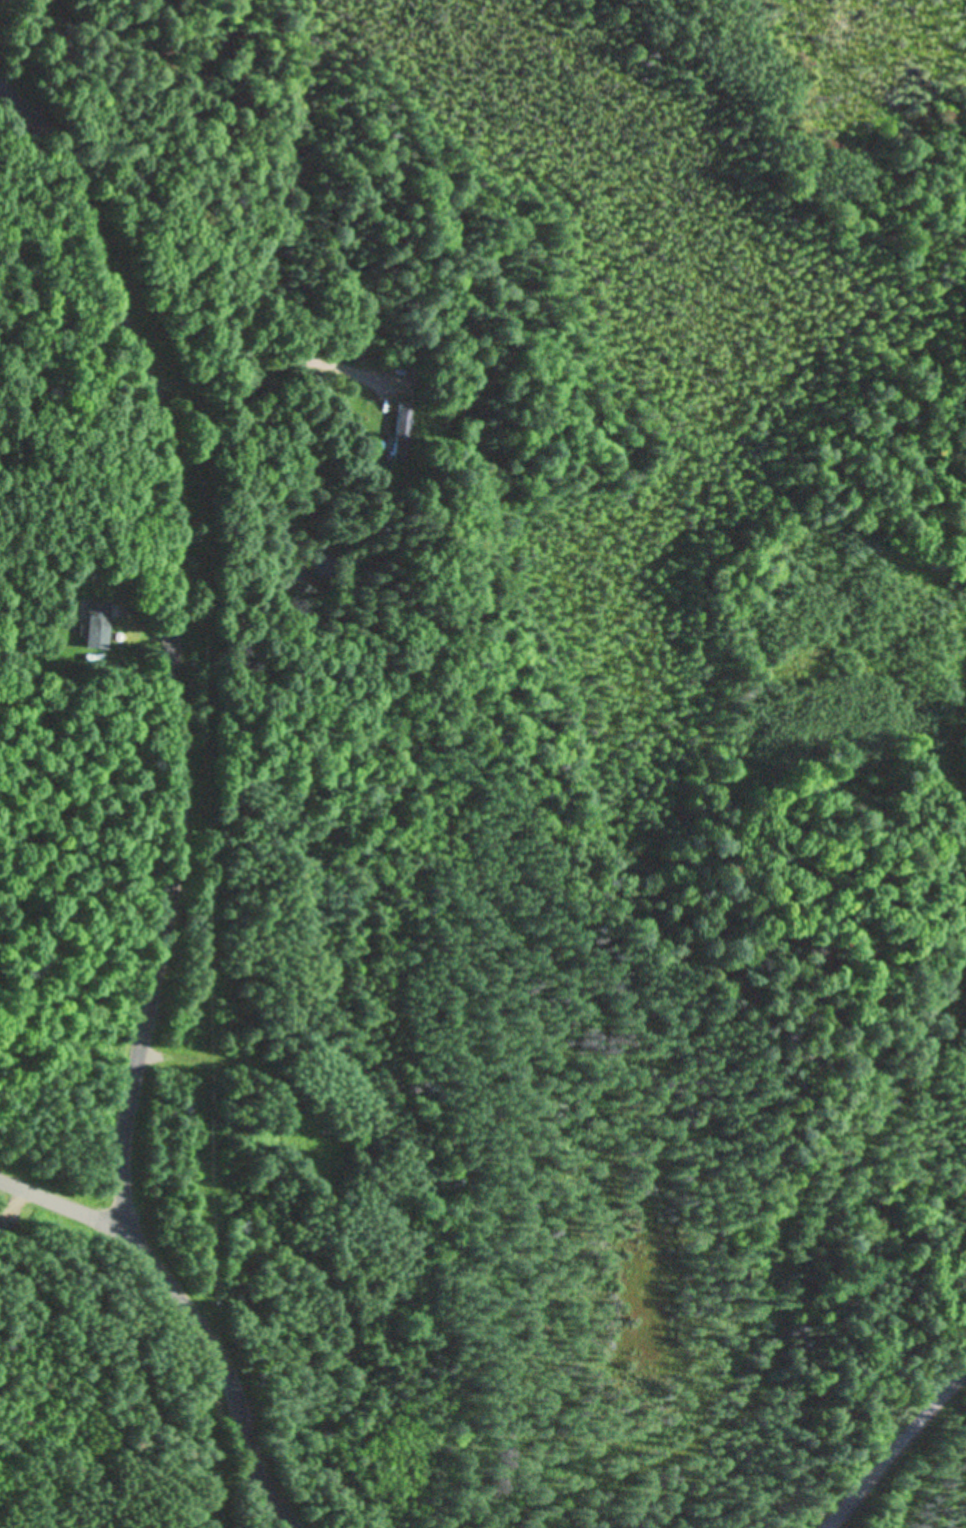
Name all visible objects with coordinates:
building: (96, 626)
road: (174, 868)
road: (62, 1207)
road: (900, 1456)

